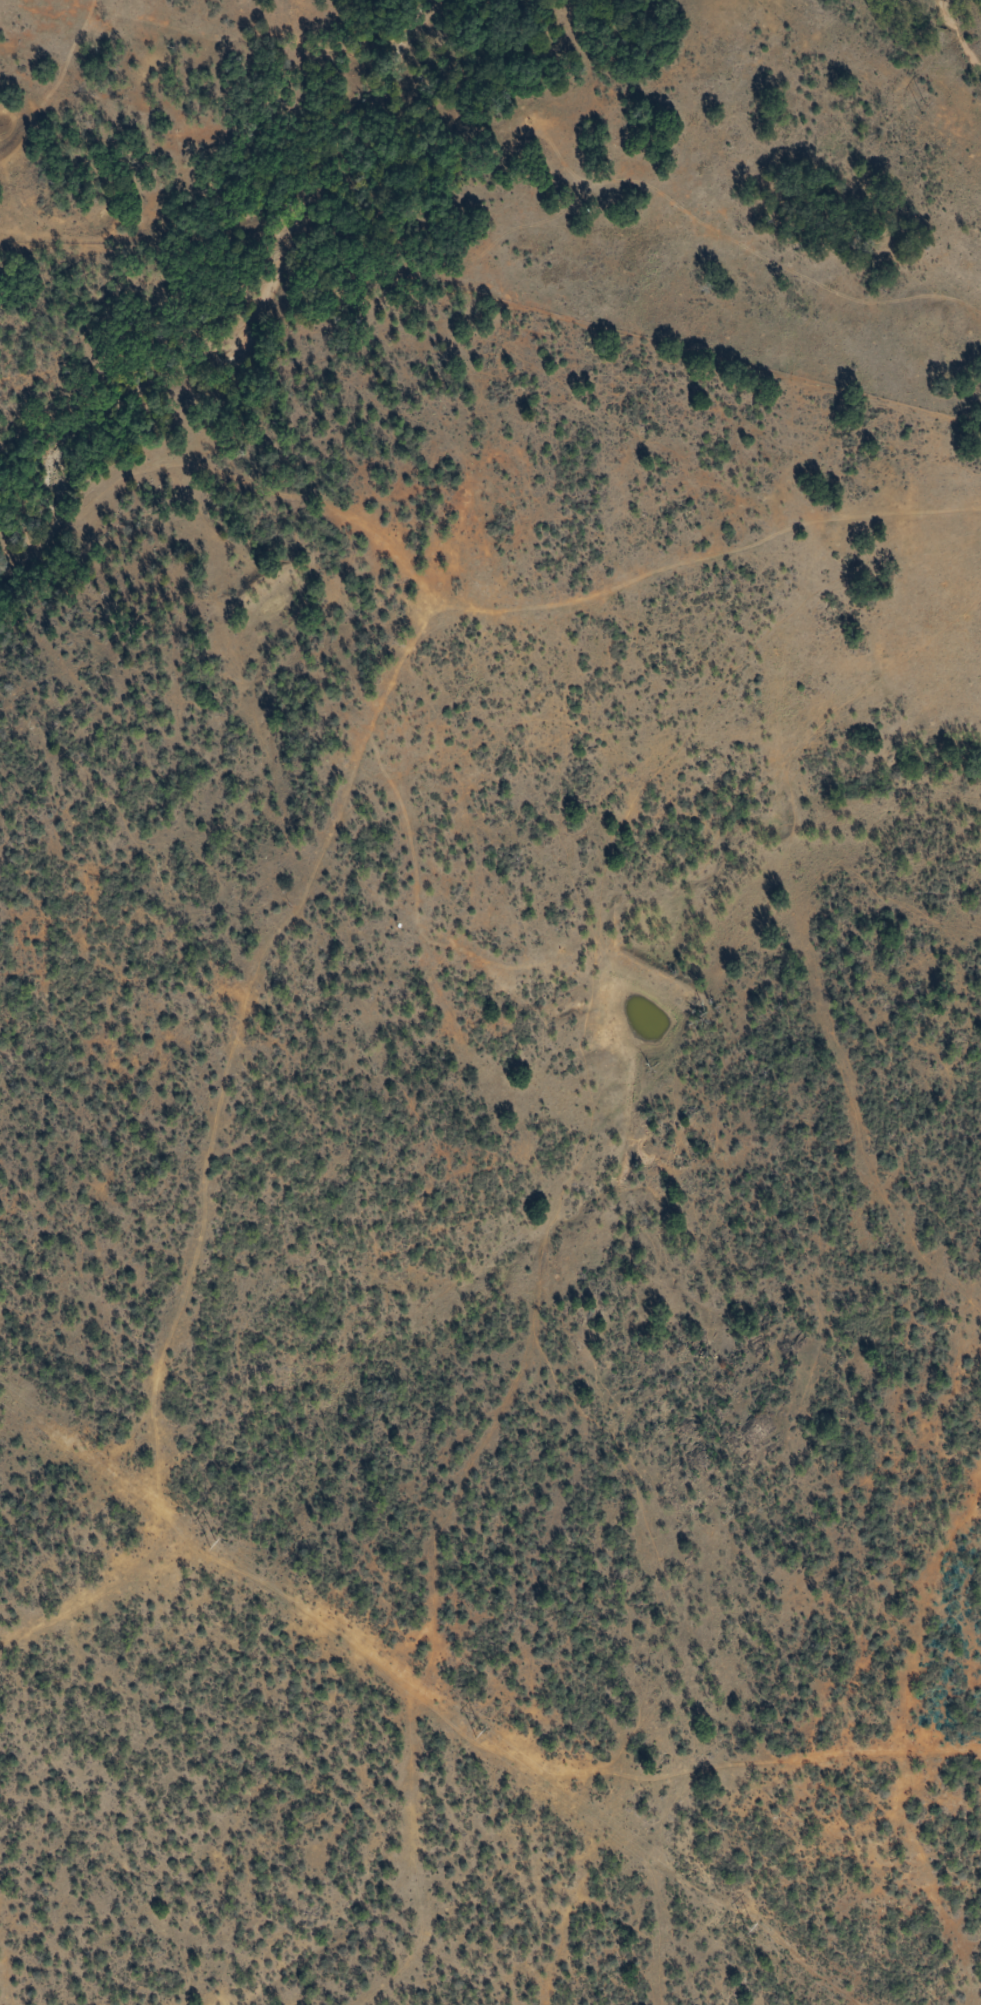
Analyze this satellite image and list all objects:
road: (58, 83)
power tower: (930, 105)
road: (341, 807)
power tower: (223, 1544)
road: (438, 1703)
power tower: (486, 1731)
power tower: (757, 1927)

